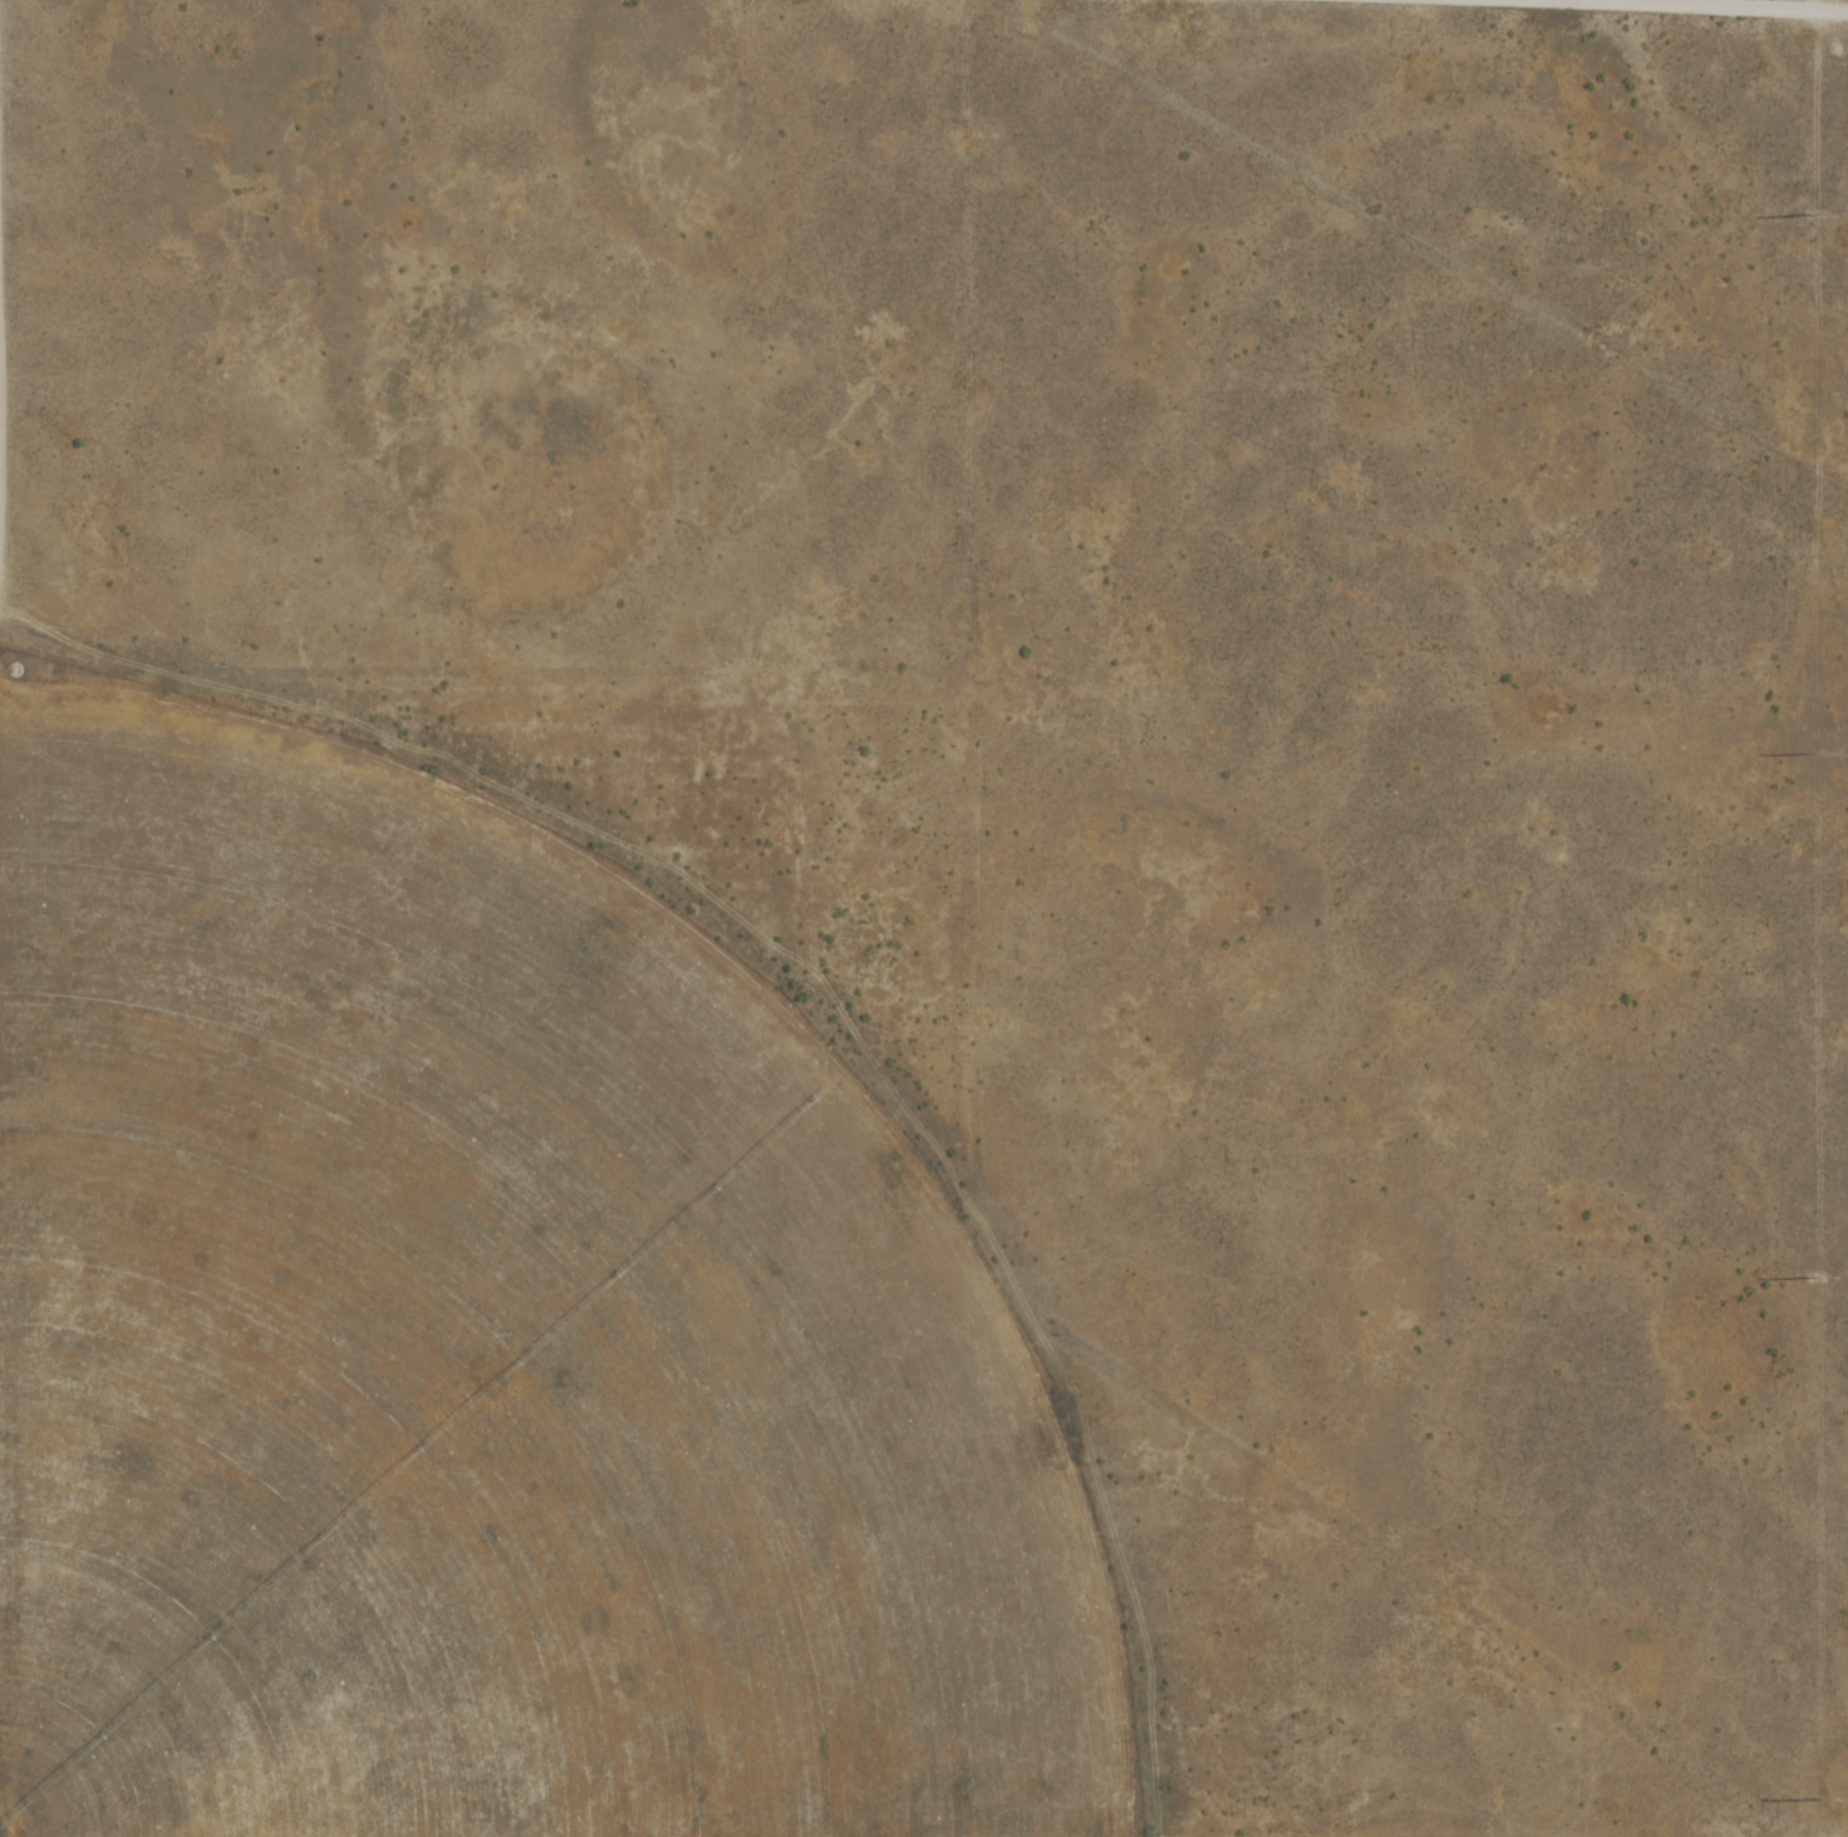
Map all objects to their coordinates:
road: (1691, 6)
power tower: (1814, 215)
road: (10, 312)
power tower: (1816, 755)
power tower: (1816, 1278)
power tower: (1818, 1799)

